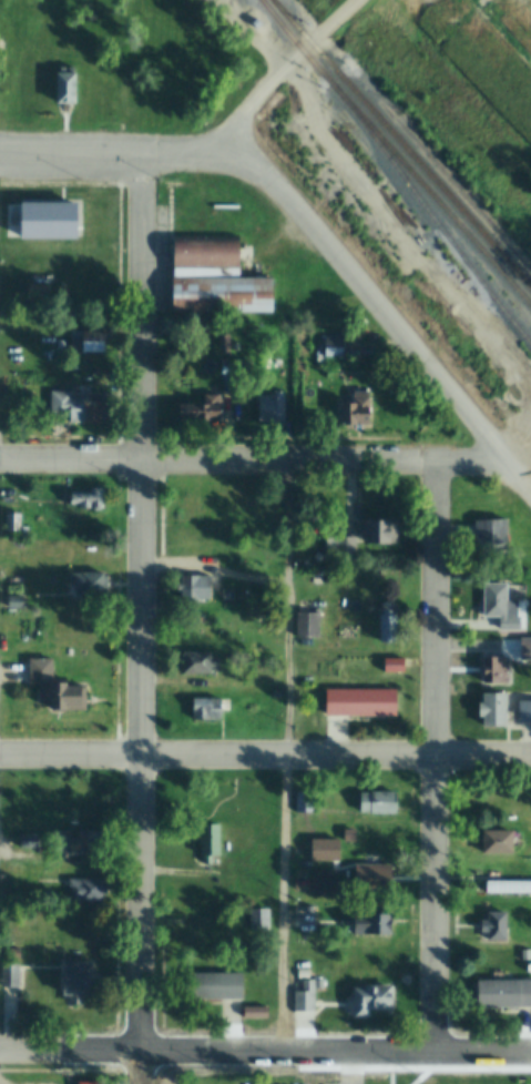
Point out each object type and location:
building: (90, 63)
road: (286, 65)
railway: (401, 143)
road: (113, 153)
railway: (394, 154)
road: (381, 213)
railway: (439, 223)
building: (208, 252)
building: (40, 291)
building: (224, 292)
road: (378, 304)
road: (0, 308)
building: (93, 343)
building: (337, 348)
building: (84, 407)
building: (275, 411)
building: (362, 411)
building: (212, 412)
road: (528, 457)
road: (262, 463)
building: (91, 499)
building: (384, 533)
building: (494, 536)
building: (201, 541)
building: (351, 547)
building: (92, 585)
building: (198, 588)
building: (19, 604)
building: (503, 607)
road: (150, 618)
building: (310, 624)
building: (395, 636)
building: (203, 663)
building: (501, 671)
building: (44, 672)
building: (71, 698)
building: (365, 703)
building: (207, 710)
building: (499, 711)
building: (527, 712)
road: (265, 756)
road: (441, 759)
building: (307, 802)
building: (381, 803)
building: (390, 839)
building: (32, 842)
building: (80, 842)
building: (213, 842)
building: (504, 843)
road: (7, 852)
building: (511, 888)
building: (10, 891)
building: (86, 891)
building: (263, 921)
building: (380, 925)
building: (501, 926)
building: (13, 977)
building: (82, 982)
building: (219, 987)
building: (508, 994)
building: (308, 997)
building: (379, 1001)
road: (265, 1054)

